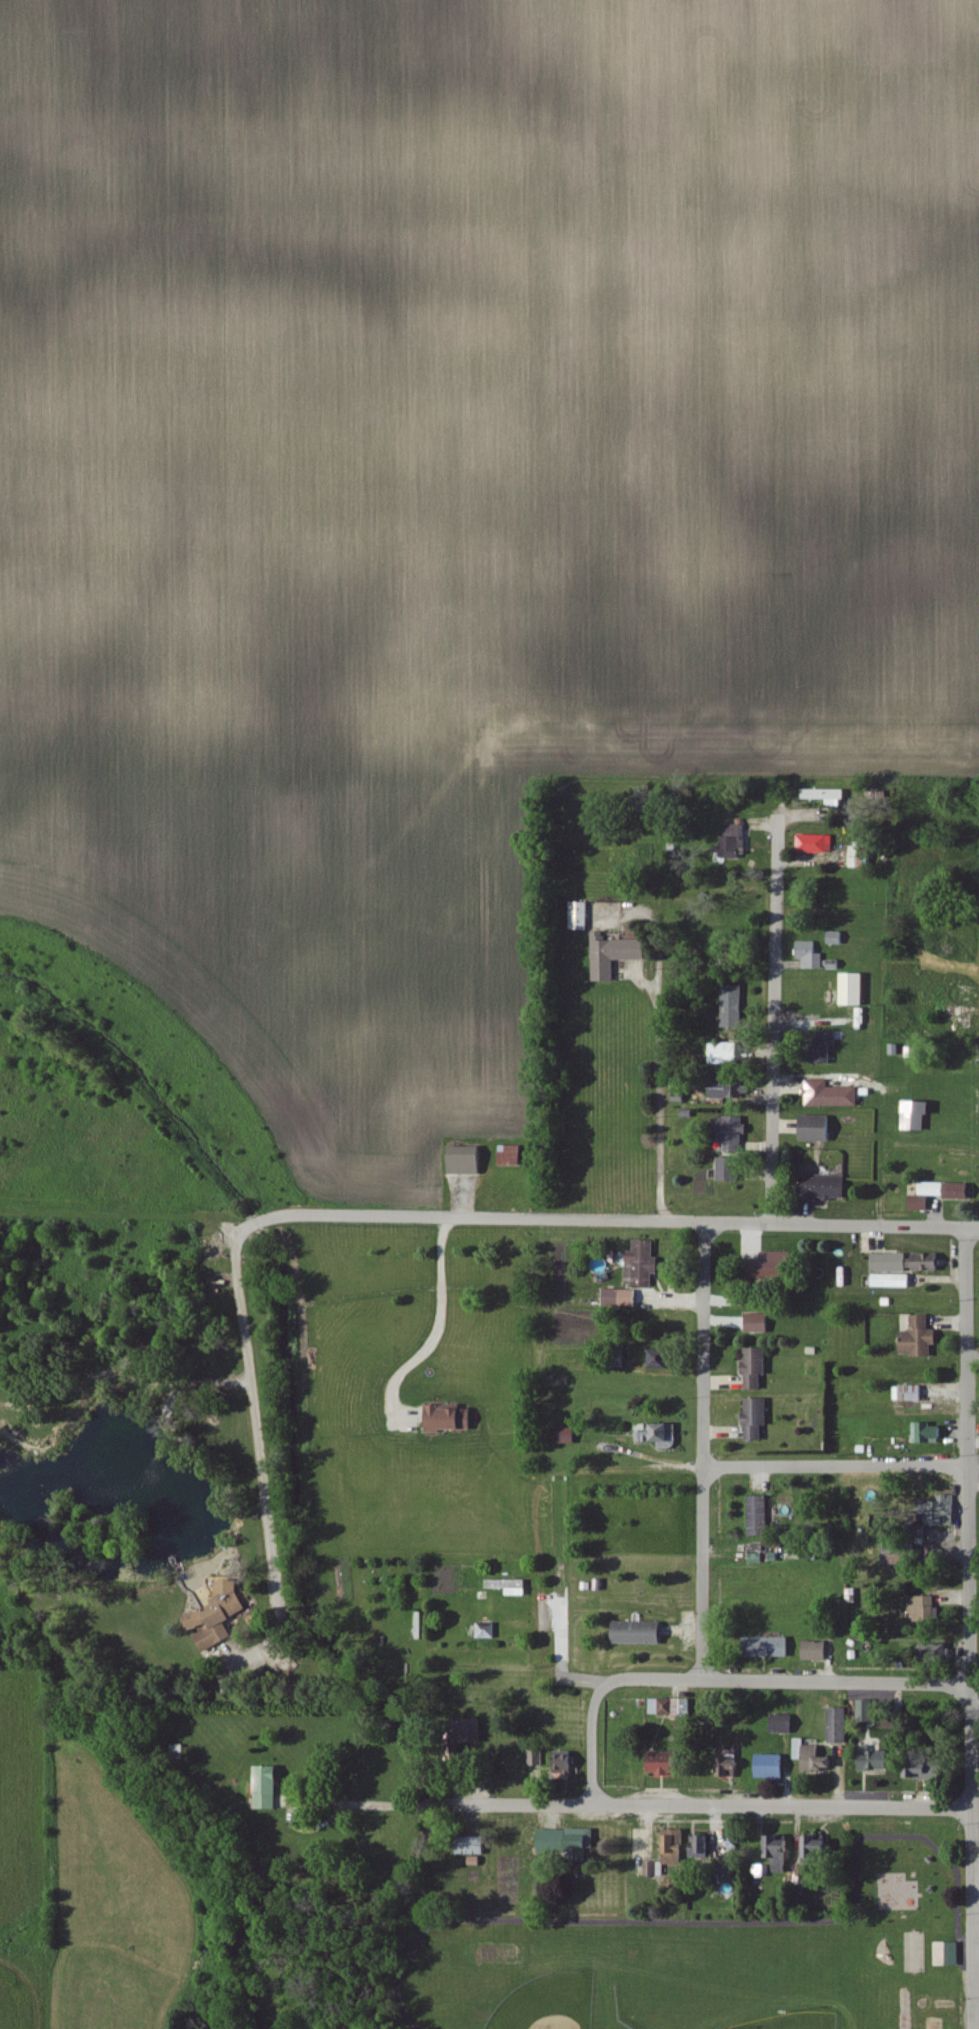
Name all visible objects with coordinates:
building: (814, 844)
building: (581, 916)
building: (616, 956)
building: (854, 989)
road: (774, 1021)
building: (826, 1046)
building: (725, 1053)
building: (731, 1090)
building: (832, 1095)
road: (657, 1101)
building: (915, 1121)
building: (817, 1129)
building: (732, 1134)
building: (513, 1156)
building: (466, 1160)
building: (729, 1170)
building: (825, 1188)
building: (957, 1191)
building: (926, 1197)
road: (467, 1220)
road: (841, 1227)
building: (928, 1262)
building: (891, 1263)
building: (641, 1264)
building: (774, 1266)
building: (894, 1281)
building: (622, 1299)
building: (759, 1323)
road: (438, 1329)
building: (920, 1338)
road: (966, 1348)
building: (660, 1360)
building: (757, 1368)
building: (909, 1394)
building: (451, 1419)
building: (756, 1419)
road: (256, 1433)
building: (928, 1434)
building: (659, 1435)
building: (567, 1436)
road: (701, 1452)
road: (834, 1467)
building: (940, 1511)
building: (759, 1516)
building: (894, 1555)
building: (511, 1587)
building: (924, 1609)
building: (219, 1616)
building: (487, 1631)
building: (639, 1633)
building: (767, 1647)
building: (936, 1650)
building: (816, 1652)
road: (790, 1683)
building: (668, 1708)
building: (867, 1712)
road: (974, 1712)
building: (783, 1725)
building: (838, 1726)
building: (471, 1731)
road: (593, 1741)
road: (969, 1747)
building: (812, 1757)
building: (536, 1759)
building: (875, 1760)
building: (566, 1763)
building: (728, 1763)
building: (665, 1766)
building: (771, 1766)
building: (928, 1768)
building: (265, 1789)
road: (662, 1808)
road: (290, 1816)
building: (568, 1840)
building: (471, 1846)
building: (675, 1847)
building: (702, 1850)
building: (817, 1850)
building: (781, 1852)
building: (652, 1869)
road: (976, 1882)
road: (722, 1923)
building: (944, 1955)
park: (702, 1958)
park: (795, 2021)

